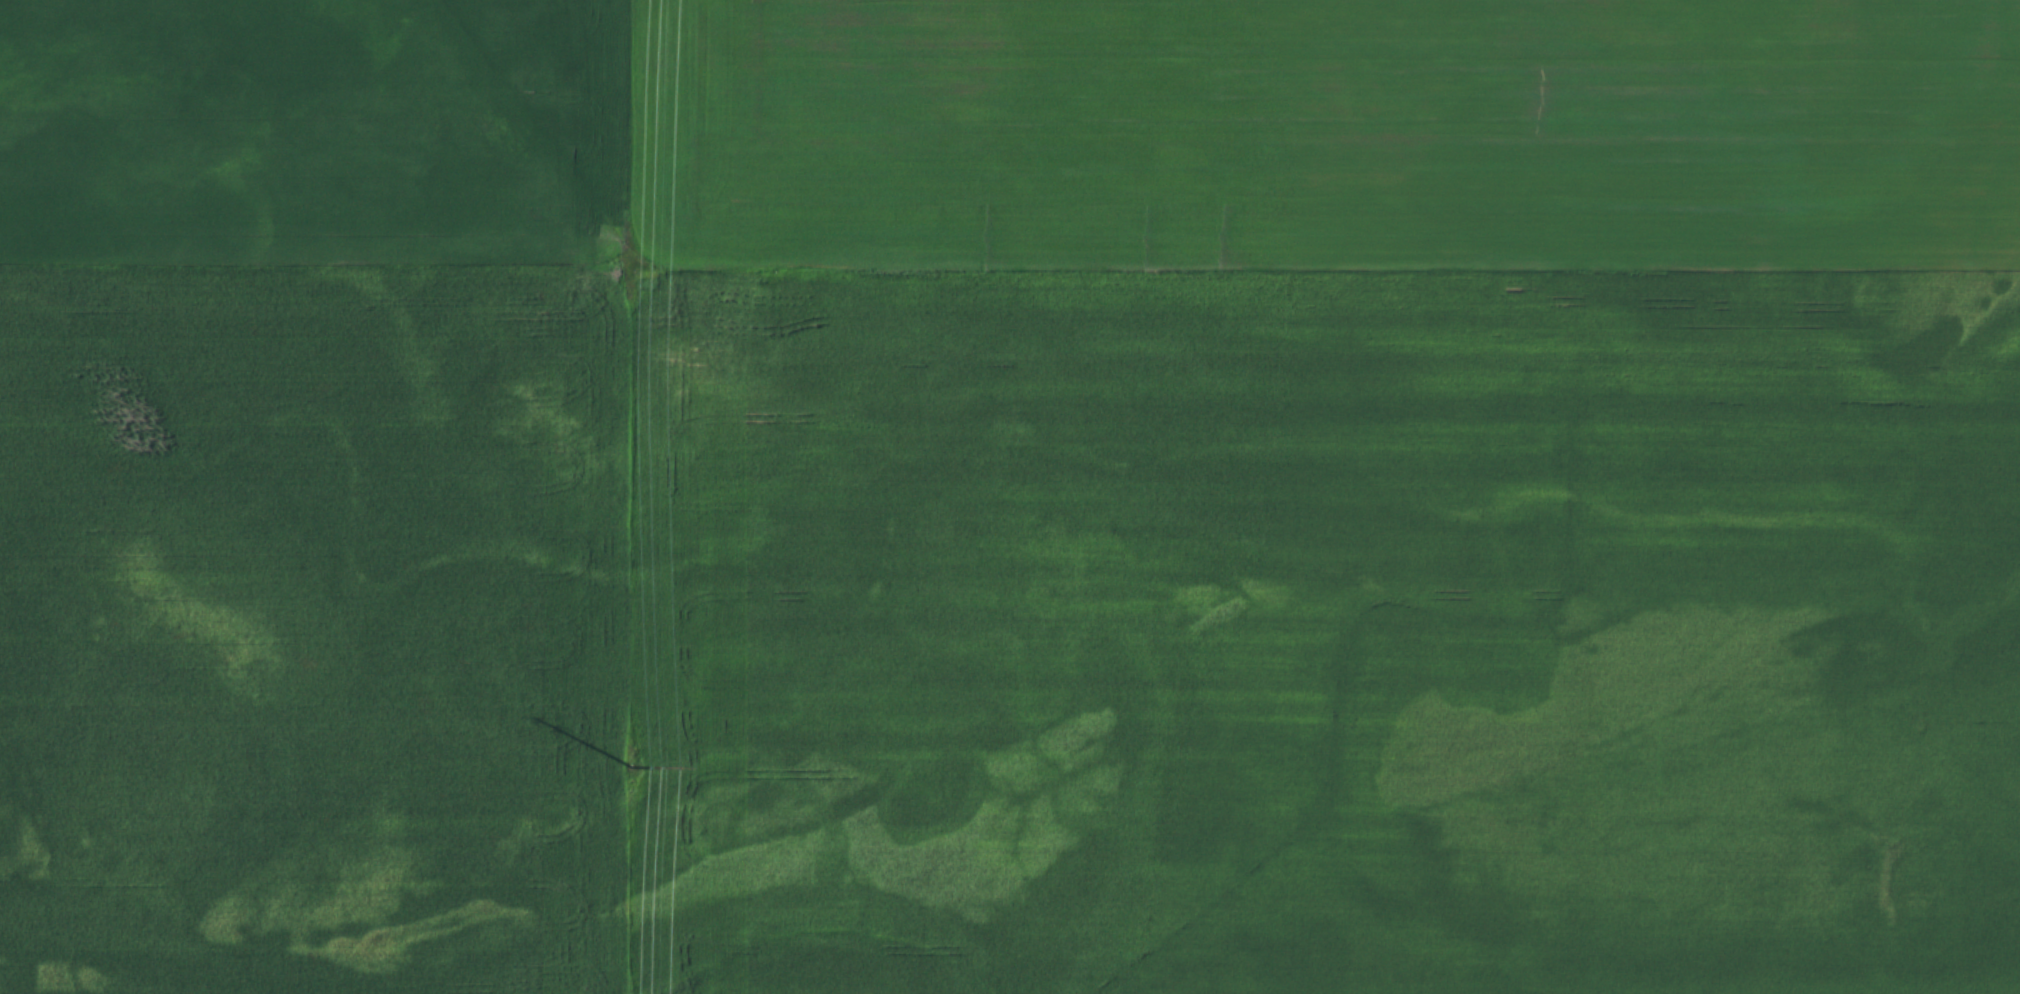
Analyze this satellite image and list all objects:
power tower: (633, 764)

